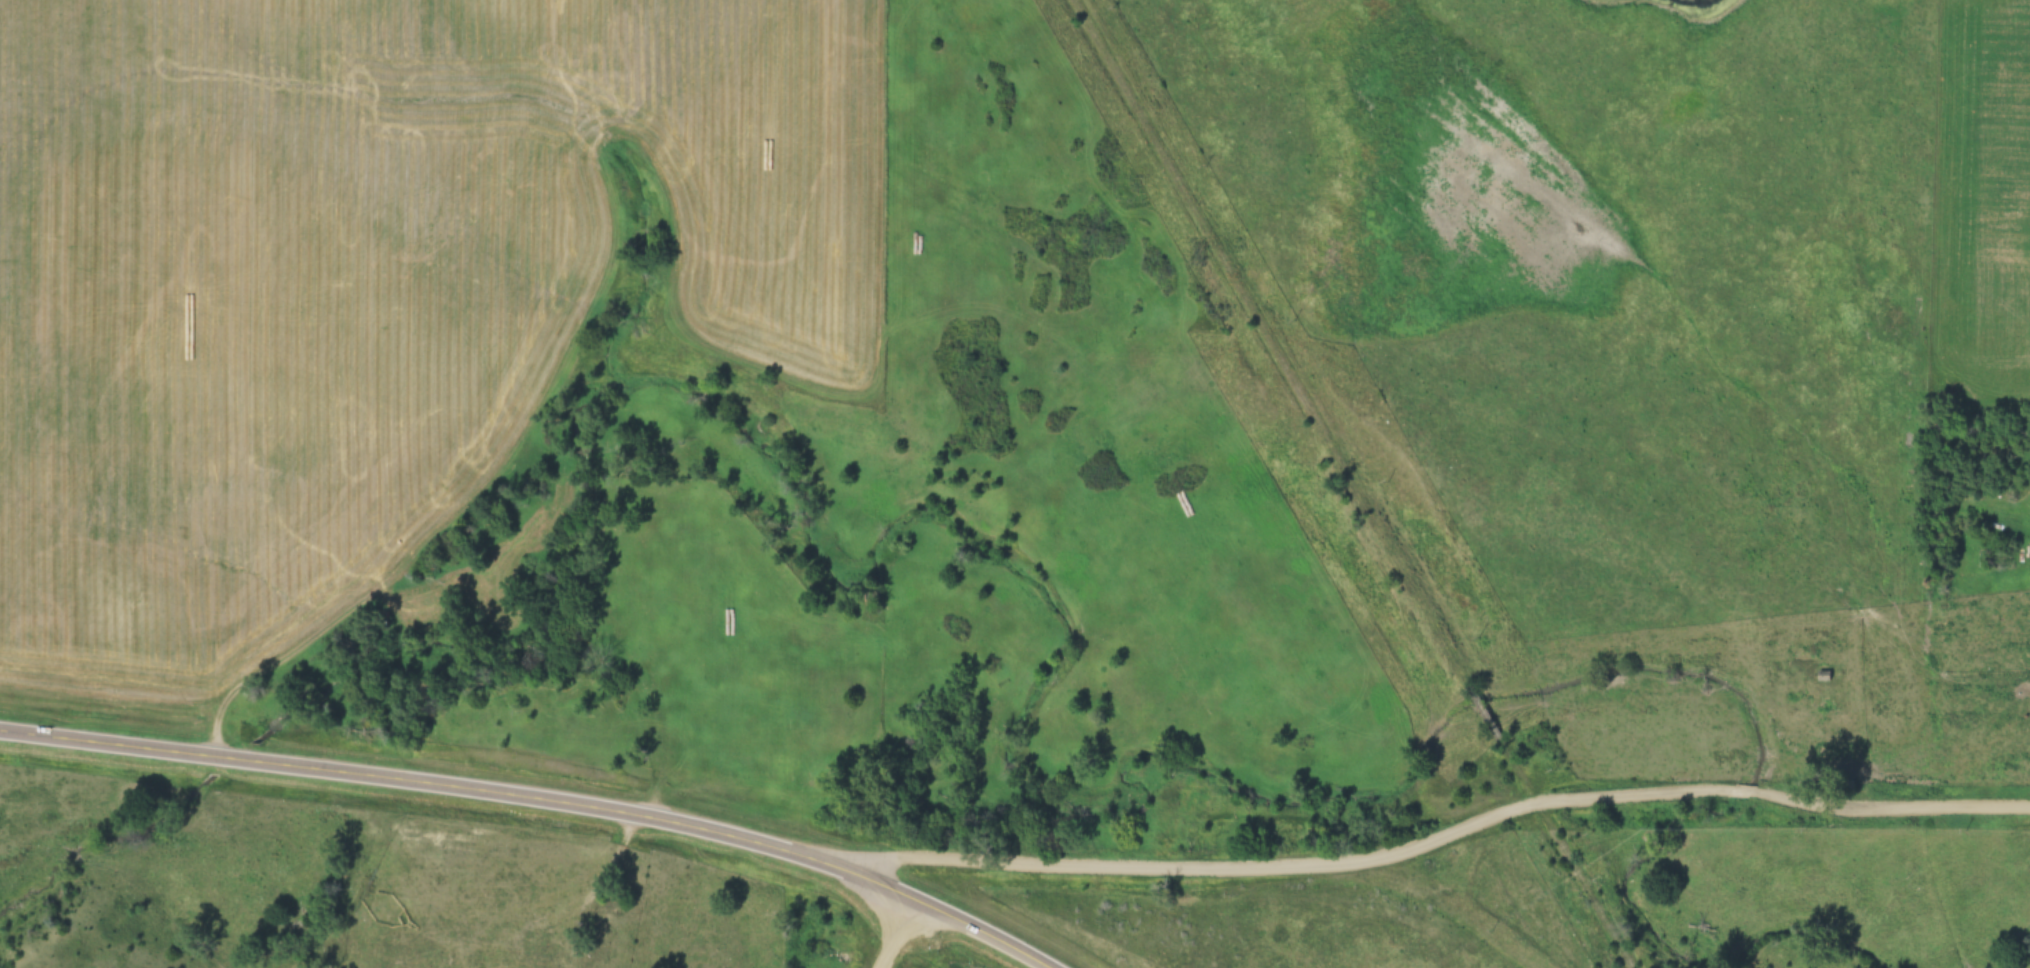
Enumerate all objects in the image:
building: (1825, 676)
road: (538, 799)
road: (1441, 838)
road: (900, 933)

